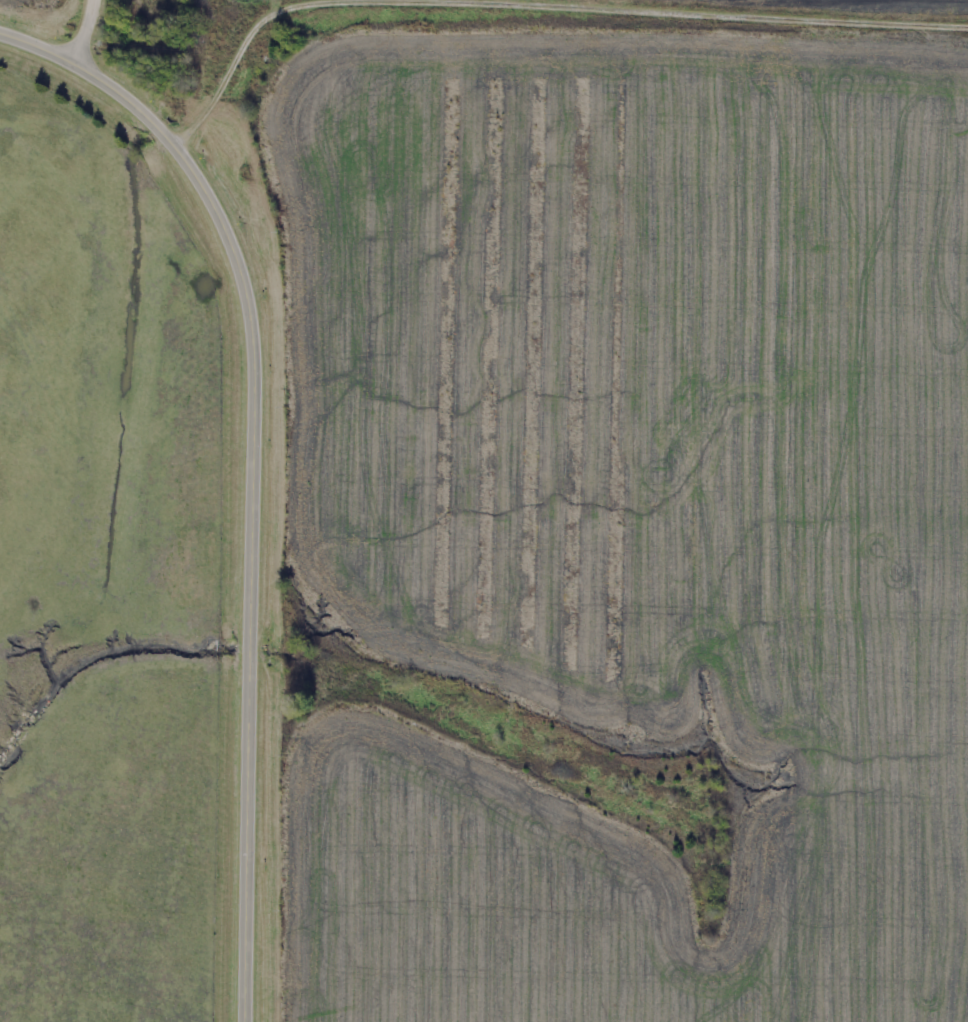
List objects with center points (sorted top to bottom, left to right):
road: (80, 27)
road: (250, 467)

